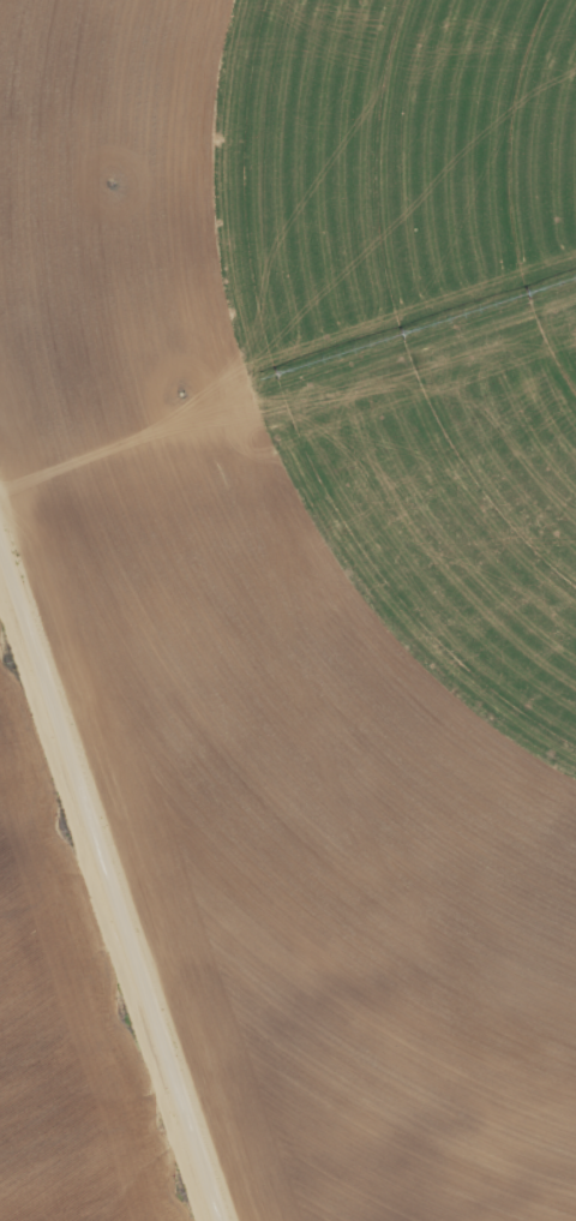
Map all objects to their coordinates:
road: (110, 879)

